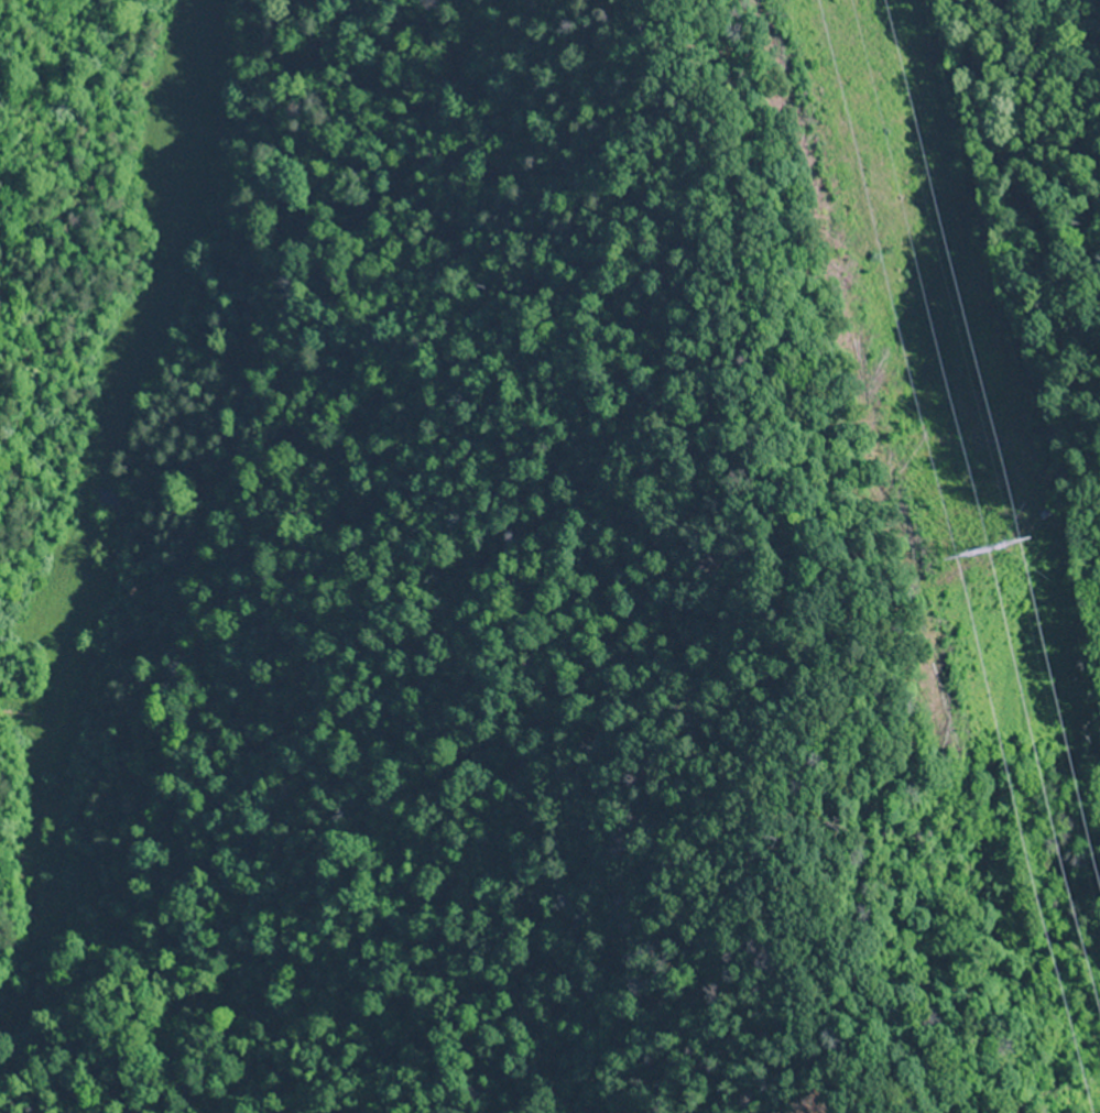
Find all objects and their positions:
power tower: (994, 574)

